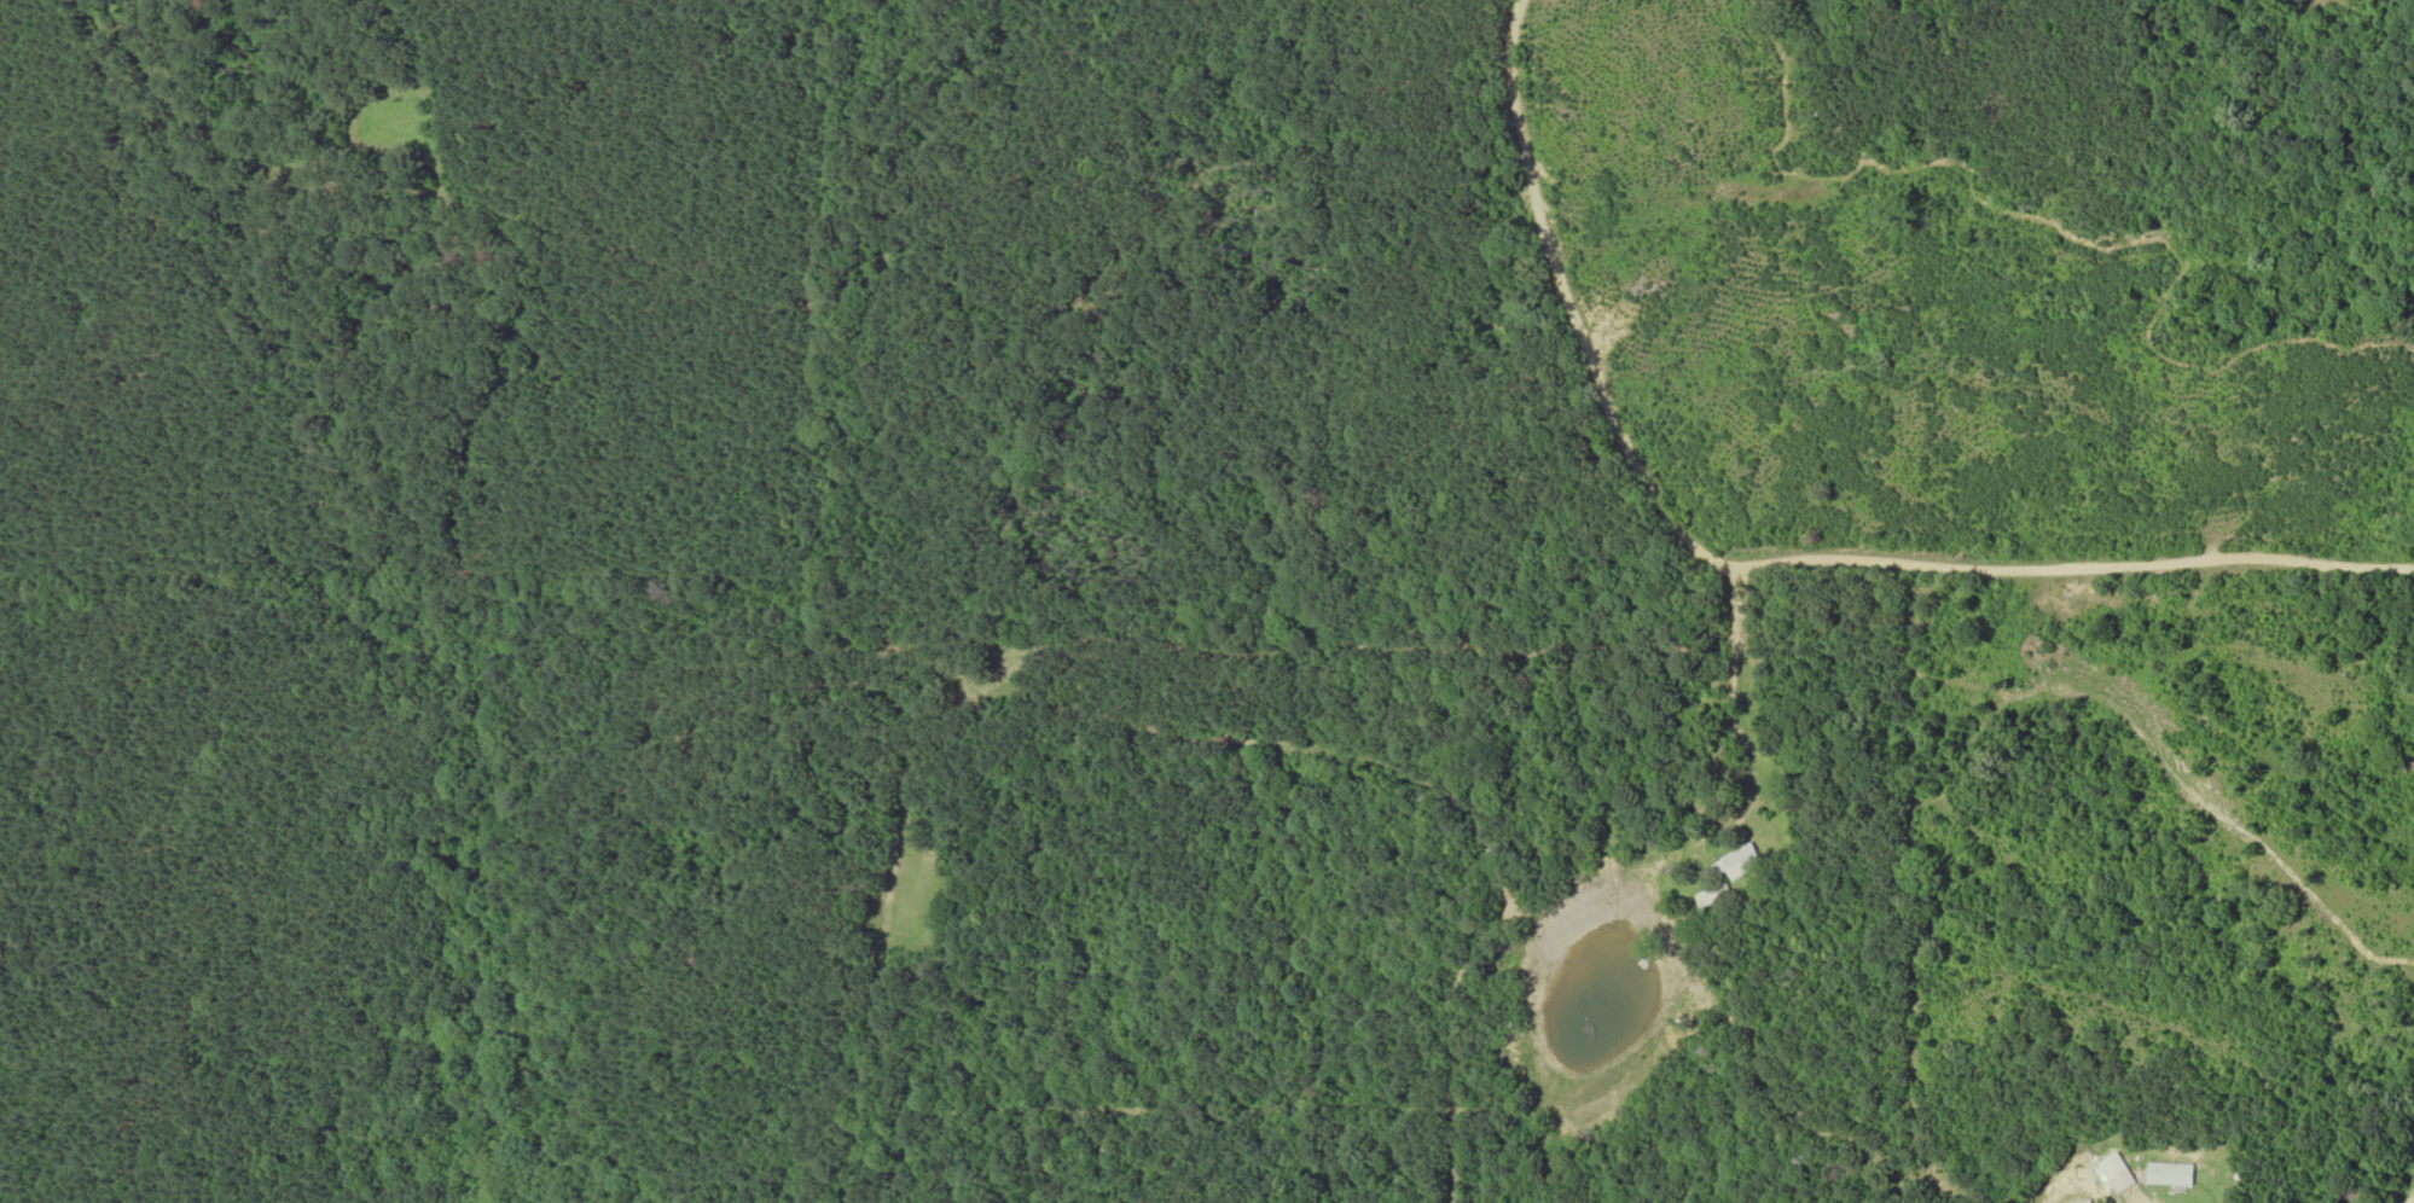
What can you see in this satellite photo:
road: (1757, 568)
road: (1735, 698)
building: (1742, 860)
building: (2172, 1173)
building: (2117, 1174)
building: (2084, 1201)

